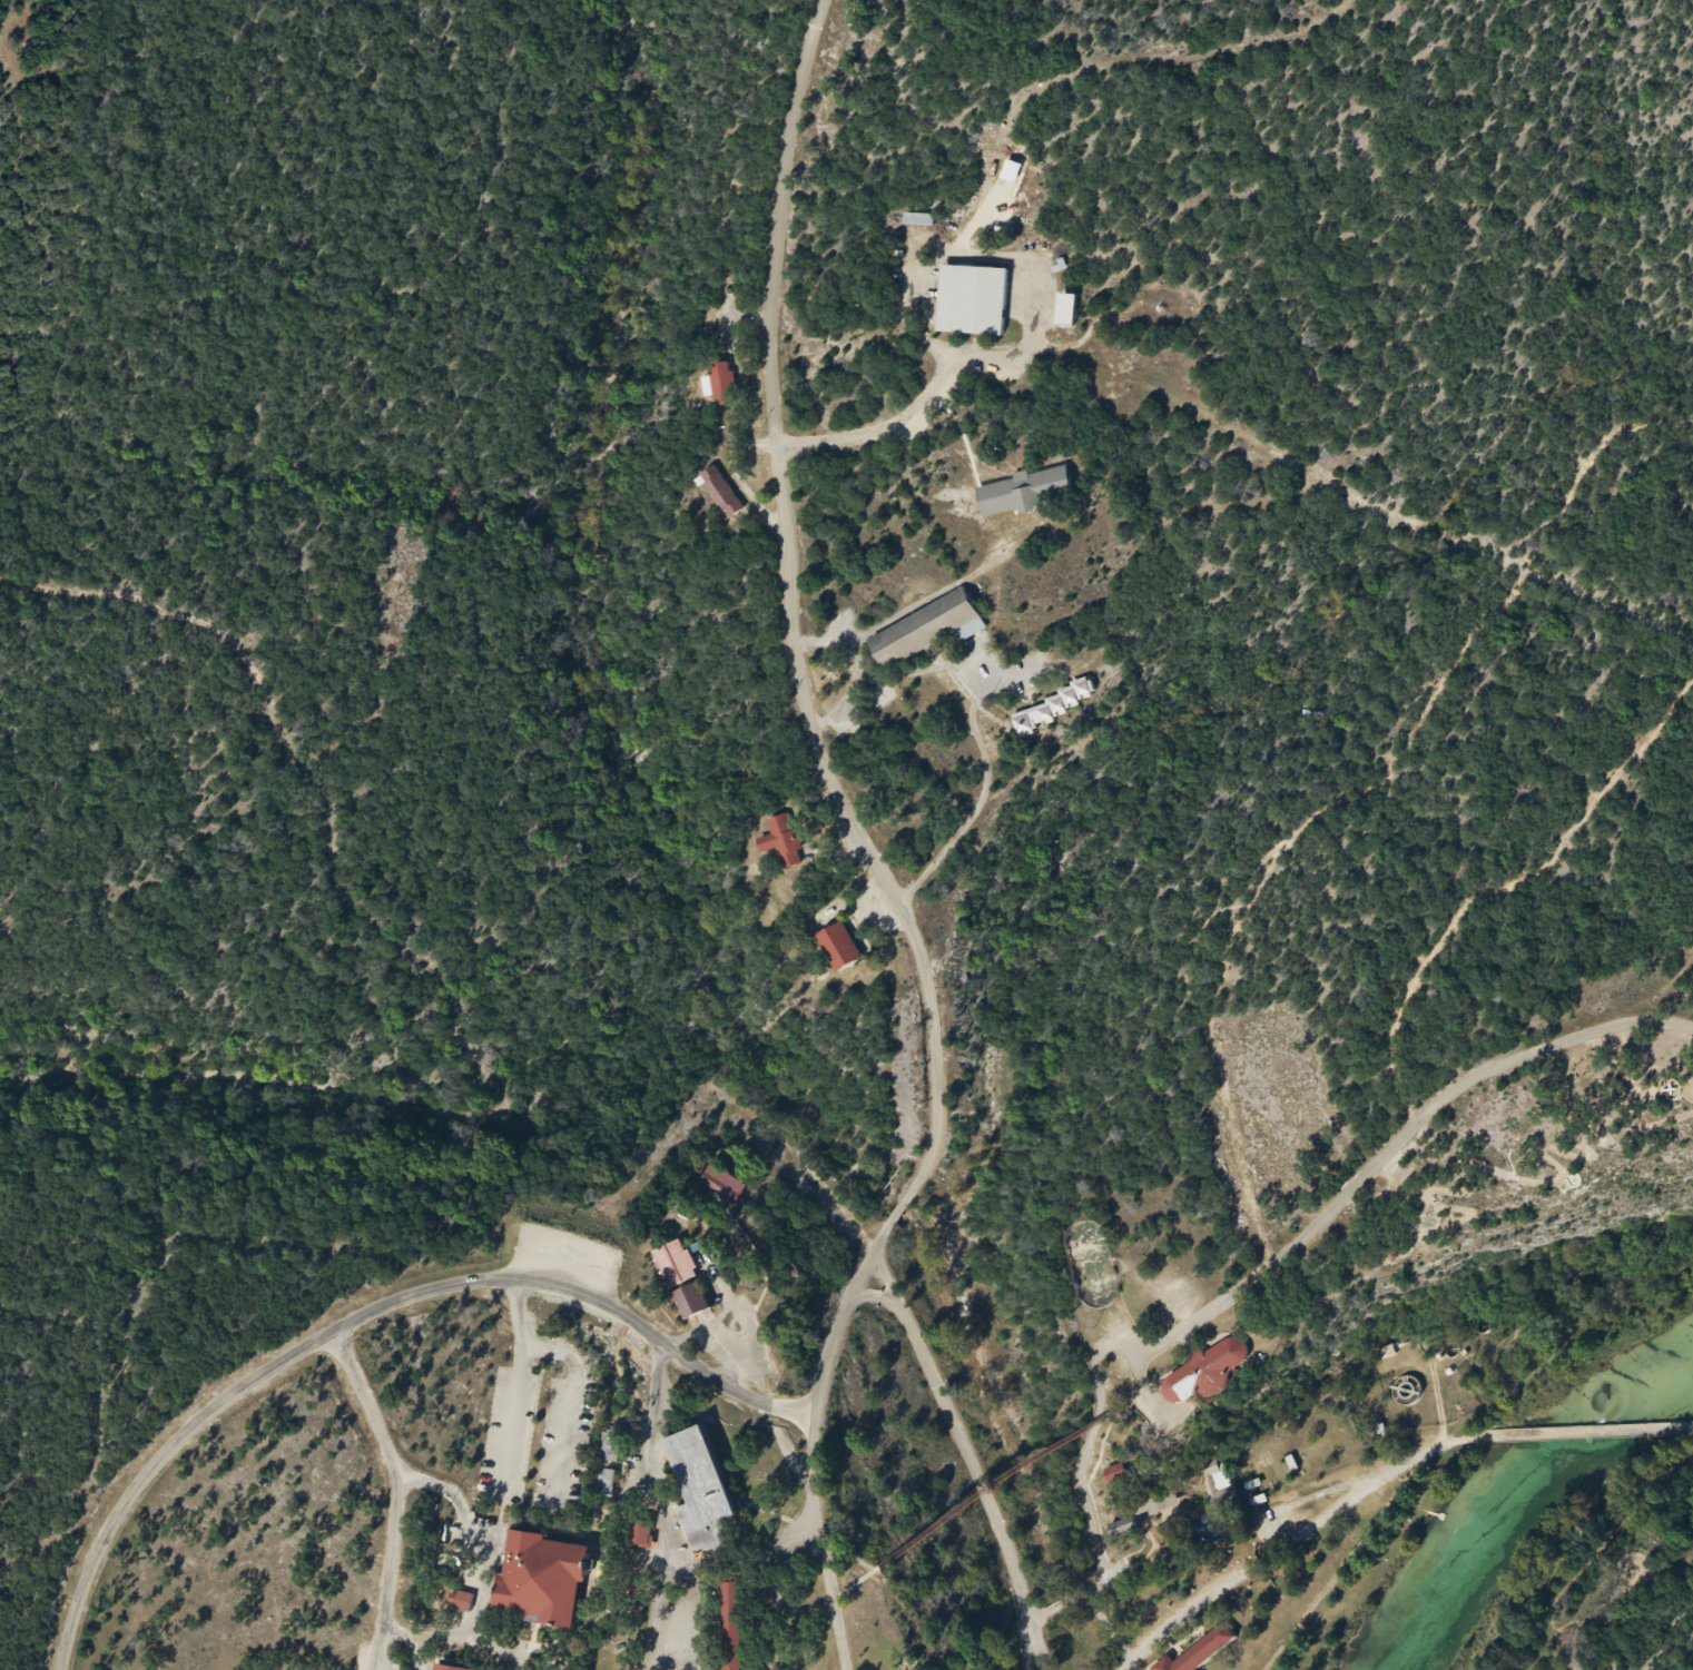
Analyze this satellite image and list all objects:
road: (1115, 60)
building: (973, 302)
building: (1066, 310)
road: (836, 343)
building: (724, 385)
road: (879, 428)
building: (1024, 493)
building: (722, 494)
building: (927, 631)
road: (831, 779)
building: (782, 842)
building: (839, 948)
building: (722, 1185)
road: (1298, 1237)
building: (676, 1265)
park: (1092, 1265)
building: (691, 1304)
road: (365, 1316)
building: (1207, 1375)
road: (575, 1379)
road: (513, 1412)
road: (1588, 1434)
road: (966, 1443)
building: (612, 1445)
road: (1430, 1452)
building: (1116, 1474)
building: (606, 1483)
road: (1003, 1489)
building: (701, 1490)
building: (1218, 1491)
road: (398, 1494)
river: (1525, 1496)
building: (1165, 1501)
road: (659, 1502)
road: (1220, 1526)
building: (641, 1535)
road: (697, 1562)
road: (1248, 1570)
building: (544, 1579)
road: (856, 1587)
road: (831, 1593)
road: (597, 1620)
building: (731, 1625)
road: (405, 1632)
road: (467, 1632)
building: (1200, 1651)
building: (450, 1667)

